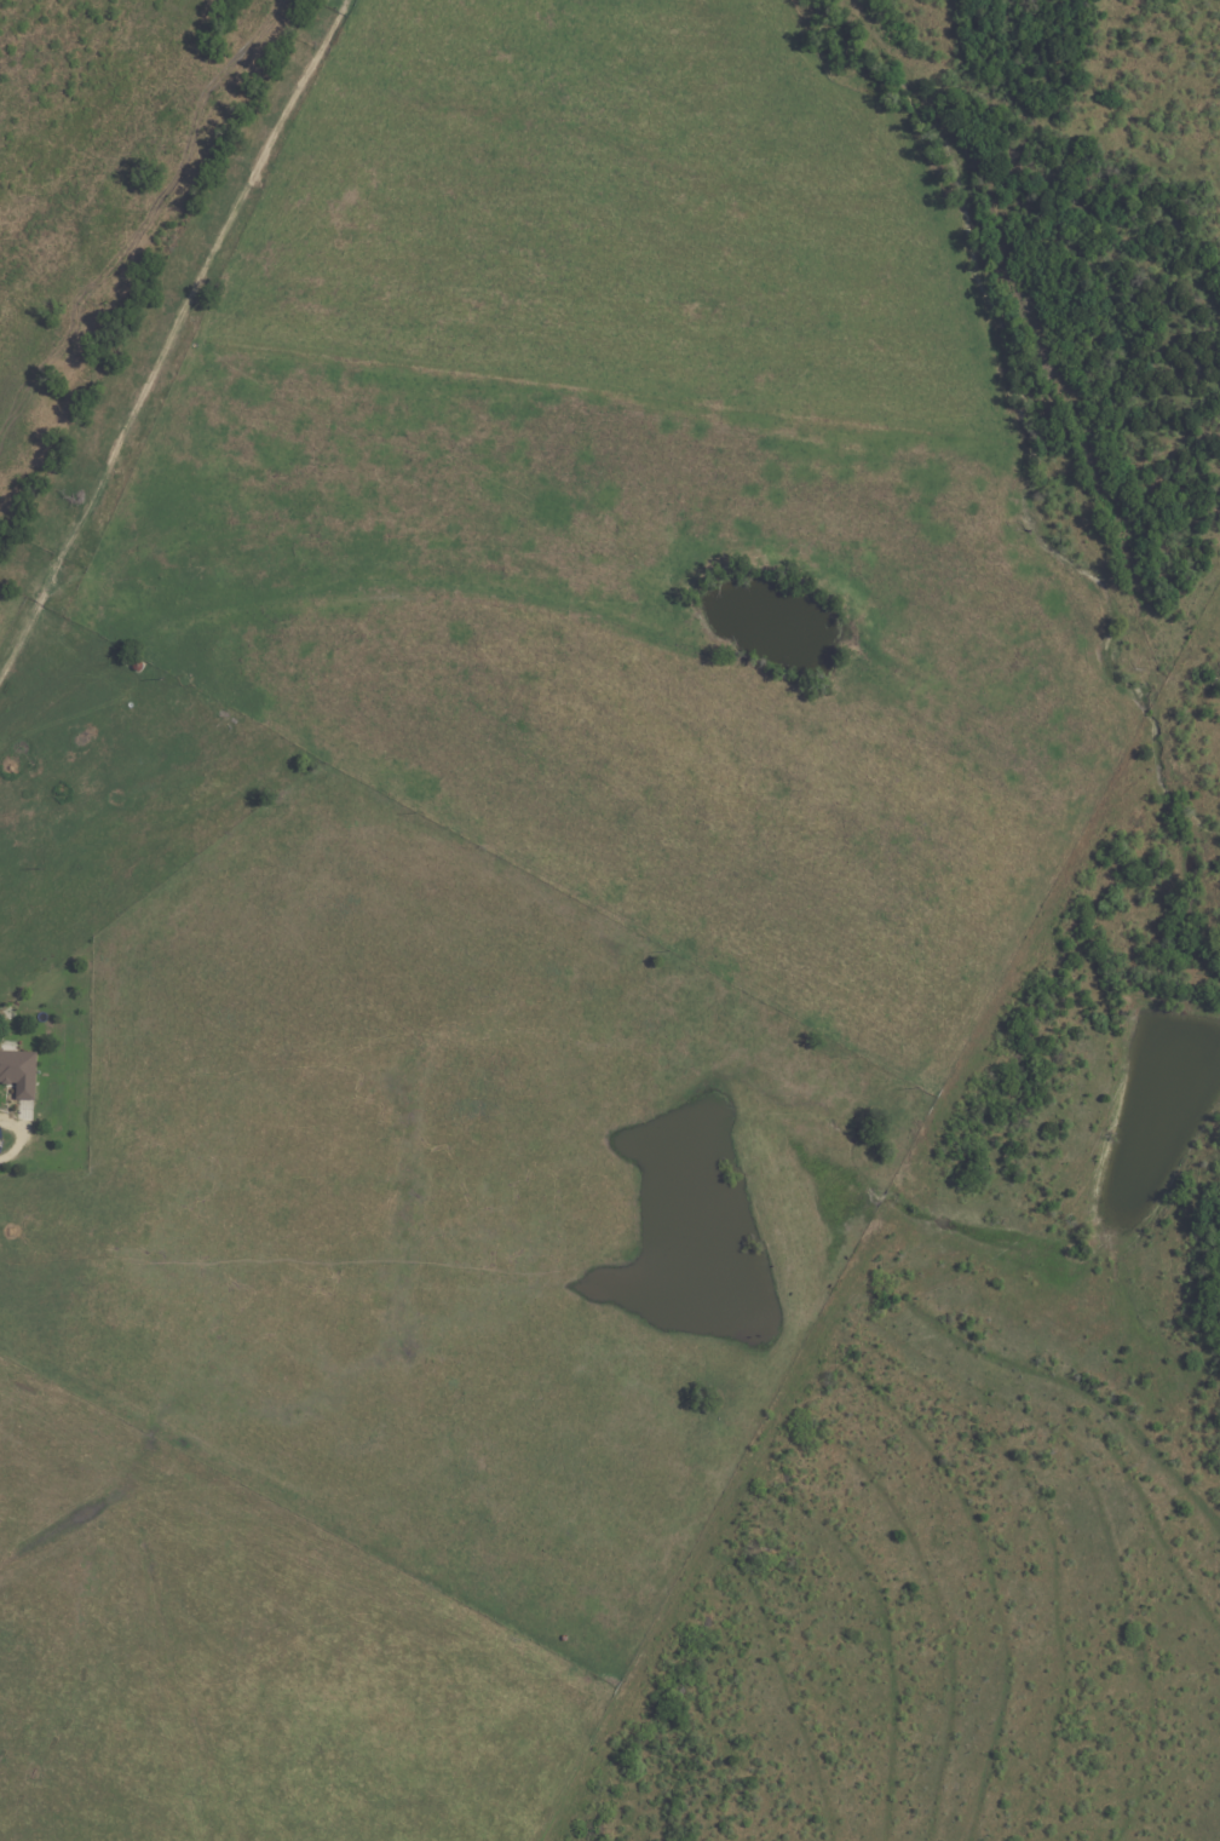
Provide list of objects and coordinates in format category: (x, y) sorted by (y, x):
building: (19, 1071)
road: (19, 1139)

